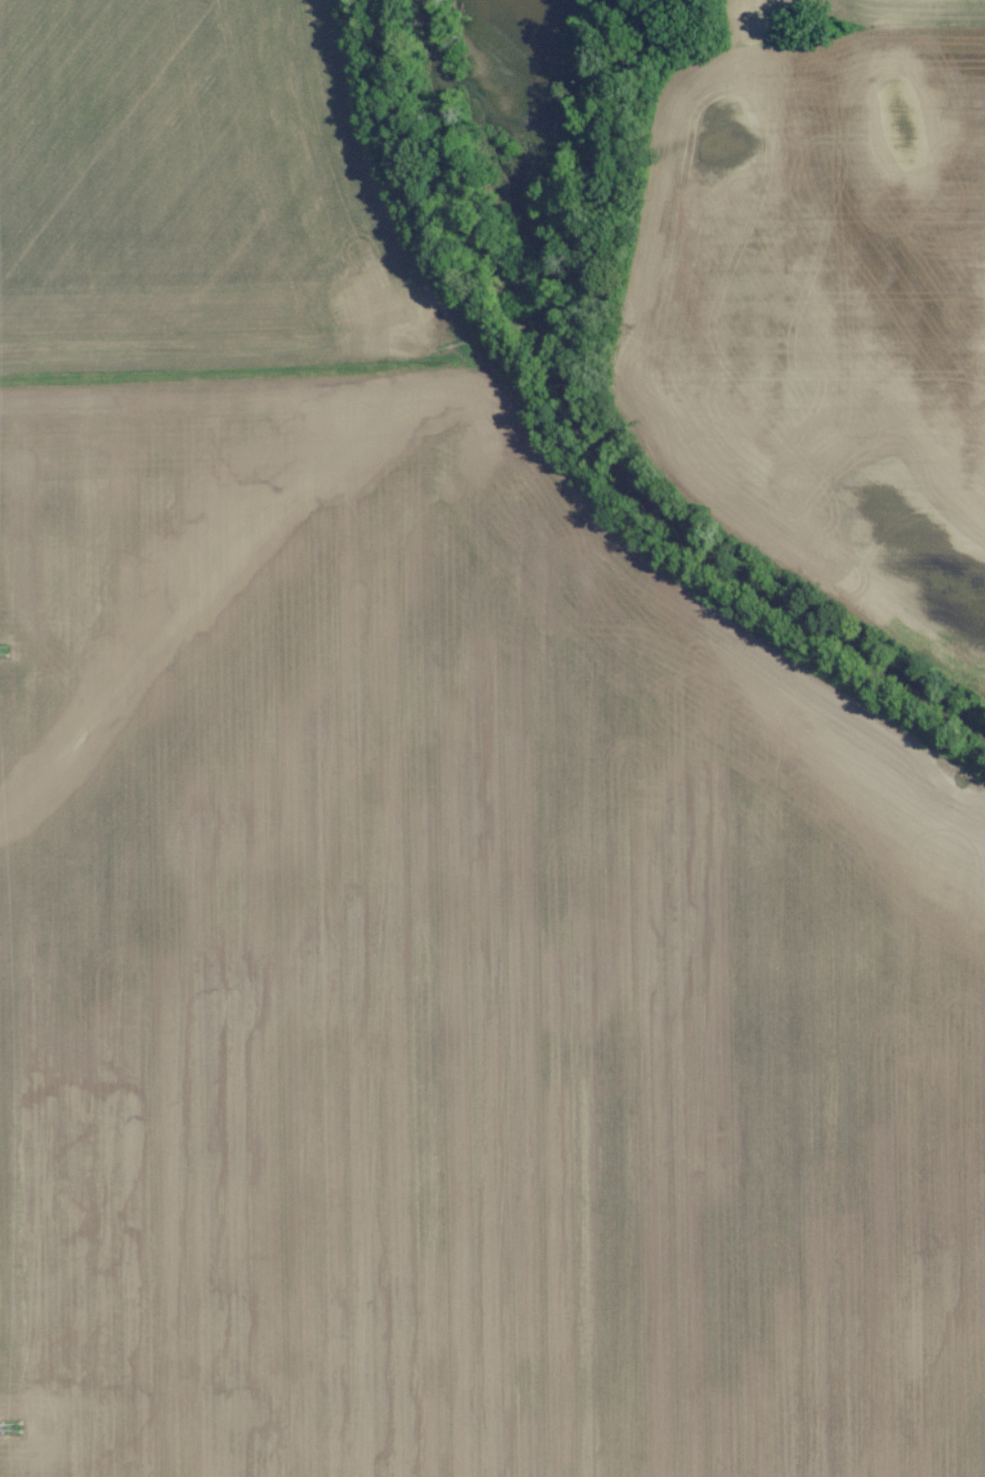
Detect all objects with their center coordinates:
power tower: (9, 1433)

